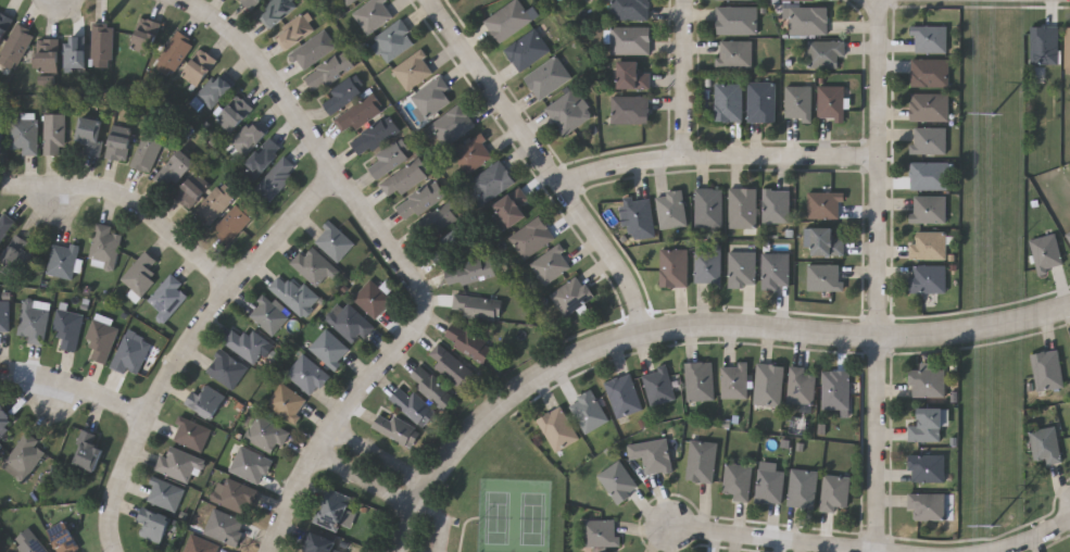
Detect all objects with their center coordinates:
building: (738, 1)
building: (801, 1)
building: (345, 2)
road: (890, 2)
building: (249, 3)
building: (632, 11)
building: (276, 12)
building: (372, 14)
building: (506, 21)
building: (734, 21)
building: (806, 21)
building: (3, 24)
building: (294, 32)
building: (143, 35)
building: (927, 39)
building: (391, 41)
building: (633, 42)
building: (14, 45)
building: (1043, 45)
building: (100, 46)
building: (1067, 47)
building: (73, 50)
building: (311, 50)
building: (526, 50)
building: (173, 53)
building: (733, 53)
building: (824, 53)
building: (46, 54)
building: (197, 66)
building: (412, 70)
building: (327, 71)
building: (928, 73)
building: (630, 76)
building: (546, 78)
road: (689, 79)
building: (212, 90)
building: (339, 96)
building: (430, 98)
building: (727, 101)
building: (759, 102)
building: (796, 102)
building: (829, 102)
building: (927, 106)
building: (567, 112)
building: (633, 112)
building: (234, 113)
building: (356, 114)
power tower: (994, 114)
building: (449, 125)
building: (1, 133)
building: (22, 134)
building: (51, 134)
building: (88, 134)
building: (374, 135)
road: (525, 135)
building: (247, 137)
building: (928, 140)
building: (116, 147)
road: (314, 147)
building: (144, 152)
building: (471, 153)
building: (262, 156)
building: (386, 160)
road: (750, 160)
building: (175, 168)
building: (928, 175)
building: (275, 177)
road: (590, 178)
building: (403, 179)
building: (491, 181)
building: (189, 189)
building: (419, 200)
building: (214, 203)
building: (776, 205)
building: (823, 205)
building: (742, 206)
building: (707, 208)
building: (670, 209)
building: (927, 209)
building: (508, 210)
road: (150, 213)
building: (639, 217)
building: (235, 219)
building: (435, 222)
building: (4, 225)
building: (1068, 236)
building: (531, 237)
building: (332, 241)
building: (824, 241)
building: (927, 244)
building: (448, 246)
building: (102, 248)
building: (17, 253)
building: (1045, 253)
building: (61, 260)
building: (550, 264)
building: (313, 266)
building: (672, 267)
building: (707, 267)
building: (741, 268)
building: (468, 271)
building: (775, 271)
building: (139, 274)
building: (823, 277)
road: (881, 278)
building: (927, 278)
building: (289, 294)
building: (570, 296)
building: (166, 297)
road: (638, 298)
building: (372, 299)
building: (475, 305)
building: (3, 315)
building: (267, 315)
building: (32, 321)
building: (348, 323)
building: (66, 327)
road: (845, 334)
building: (100, 337)
building: (466, 342)
road: (187, 344)
building: (246, 344)
building: (328, 349)
building: (128, 354)
building: (449, 364)
building: (225, 368)
building: (1045, 369)
building: (306, 375)
building: (698, 380)
building: (733, 380)
building: (927, 380)
building: (768, 384)
building: (430, 386)
building: (657, 386)
building: (800, 386)
building: (834, 389)
road: (83, 390)
building: (627, 397)
building: (204, 401)
building: (285, 403)
building: (412, 406)
building: (588, 411)
building: (4, 419)
road: (484, 423)
building: (928, 424)
road: (335, 428)
building: (557, 428)
building: (395, 429)
building: (189, 434)
building: (265, 434)
building: (1045, 443)
building: (87, 452)
building: (24, 455)
building: (655, 456)
building: (701, 461)
building: (177, 464)
building: (249, 465)
building: (926, 468)
road: (373, 472)
building: (737, 480)
building: (621, 482)
building: (769, 485)
building: (803, 488)
building: (163, 493)
building: (834, 493)
building: (234, 495)
building: (926, 505)
building: (330, 510)
road: (439, 522)
building: (152, 524)
power tower: (993, 526)
building: (224, 527)
building: (604, 535)
road: (753, 538)
building: (64, 541)
road: (1040, 541)
building: (27, 542)
building: (317, 543)
building: (199, 545)

